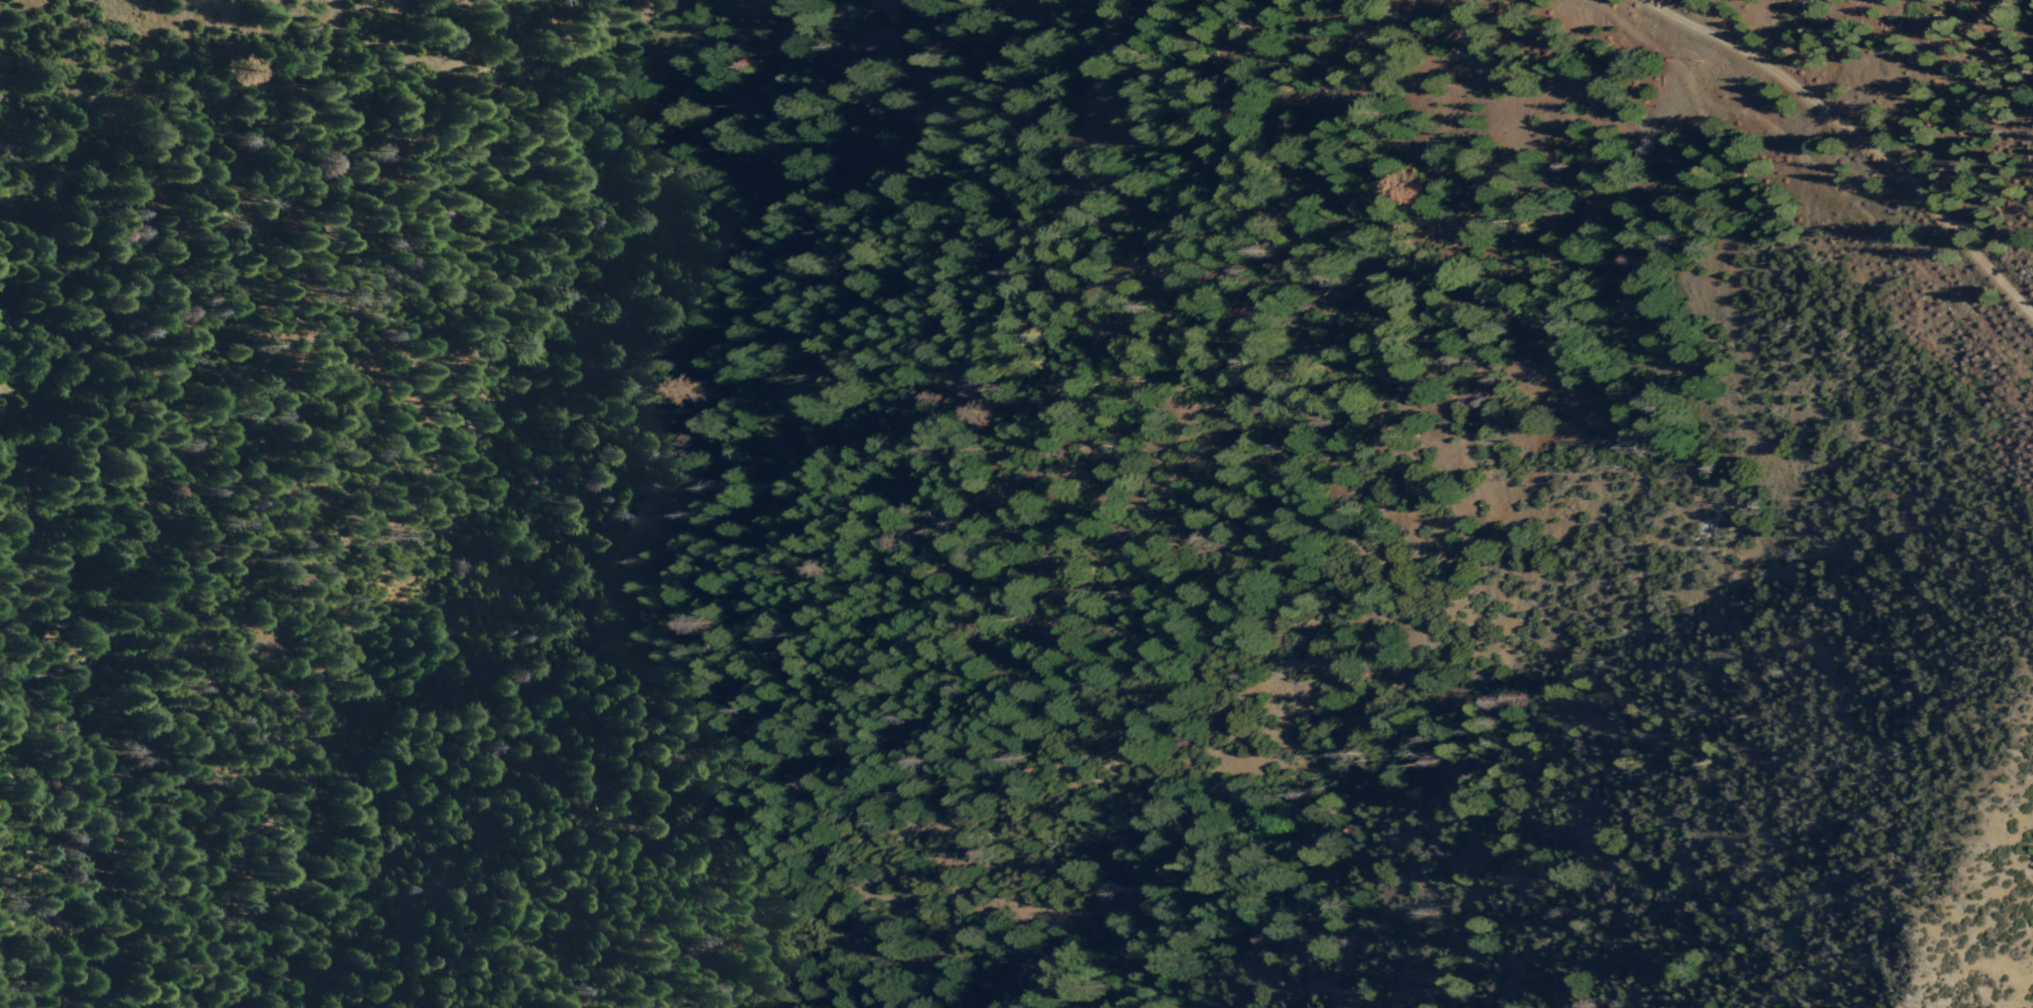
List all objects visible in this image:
road: (1852, 138)

